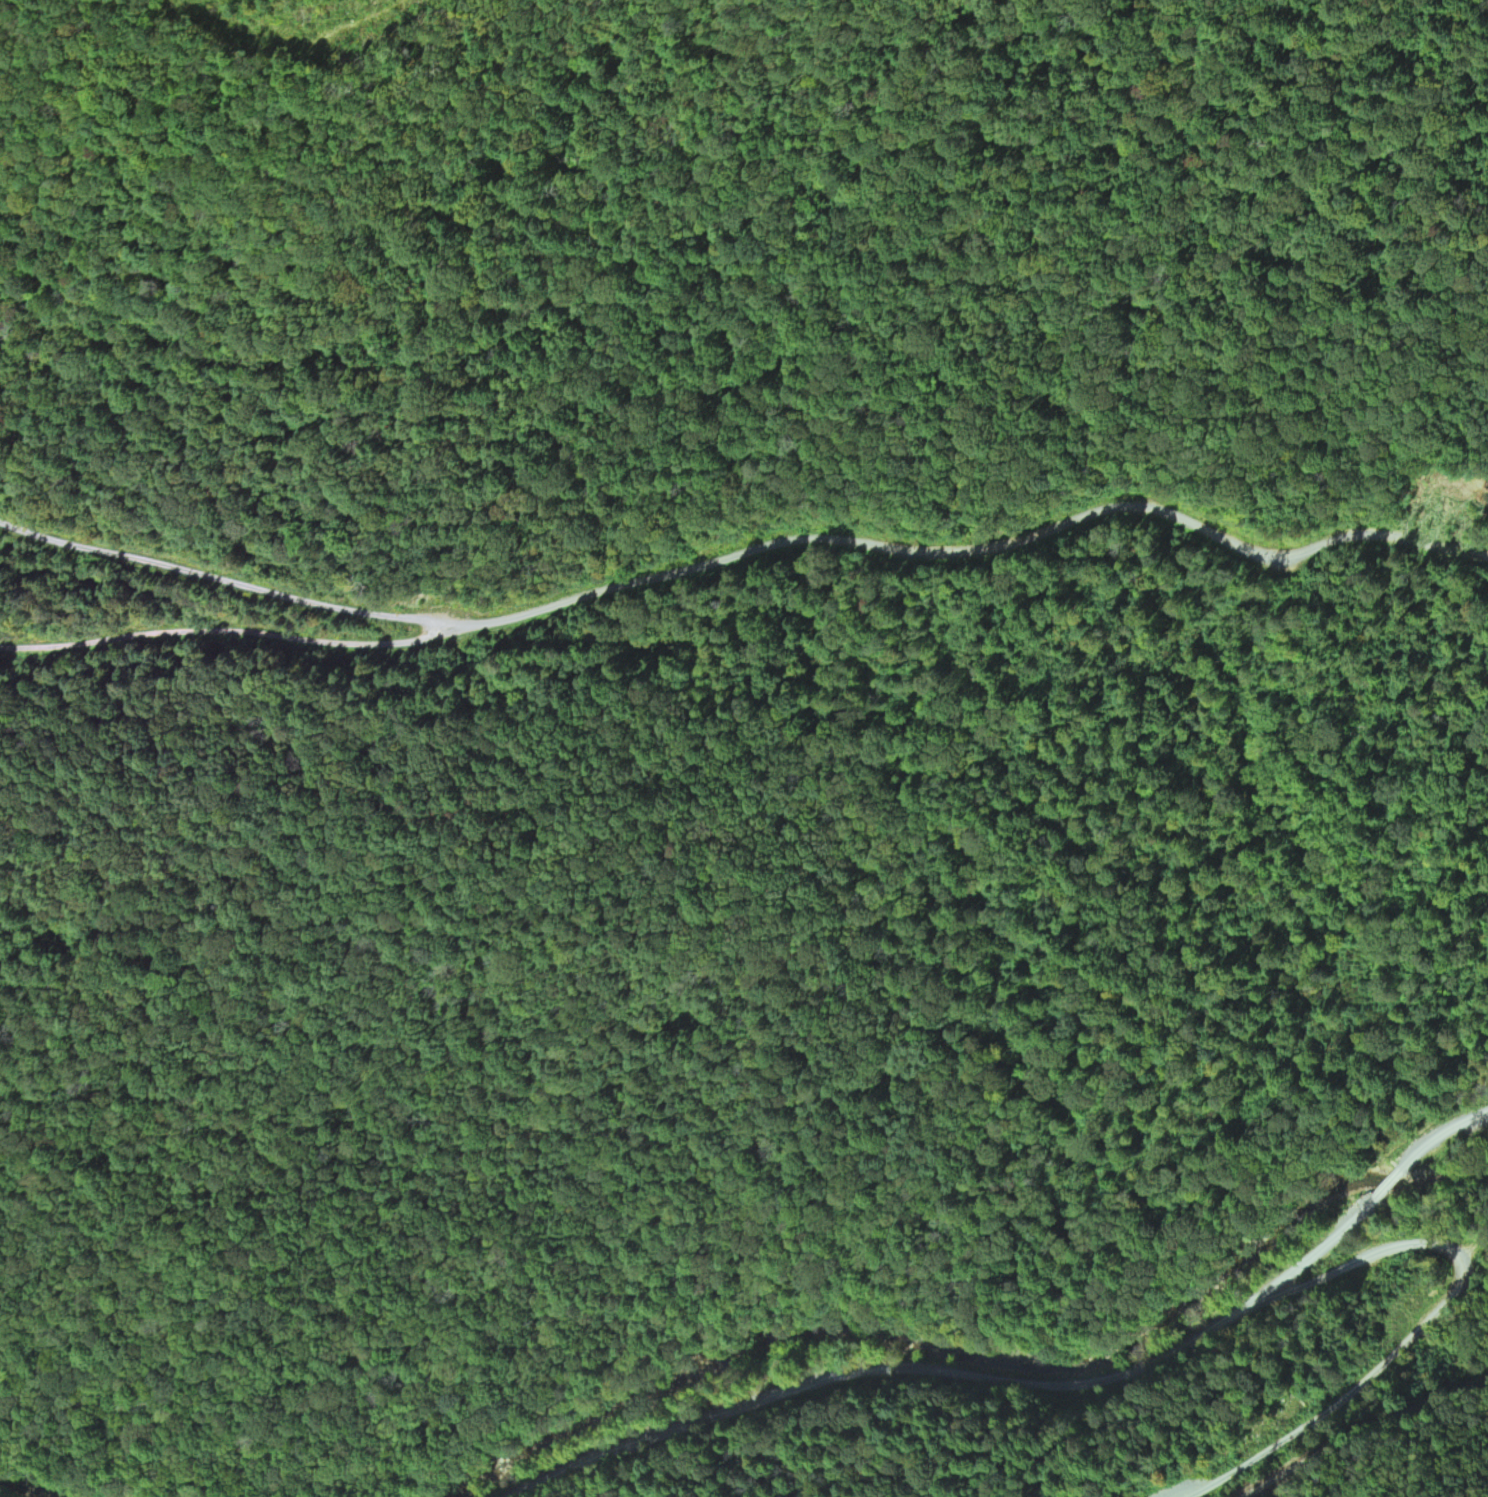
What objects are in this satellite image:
road: (1031, 1378)

